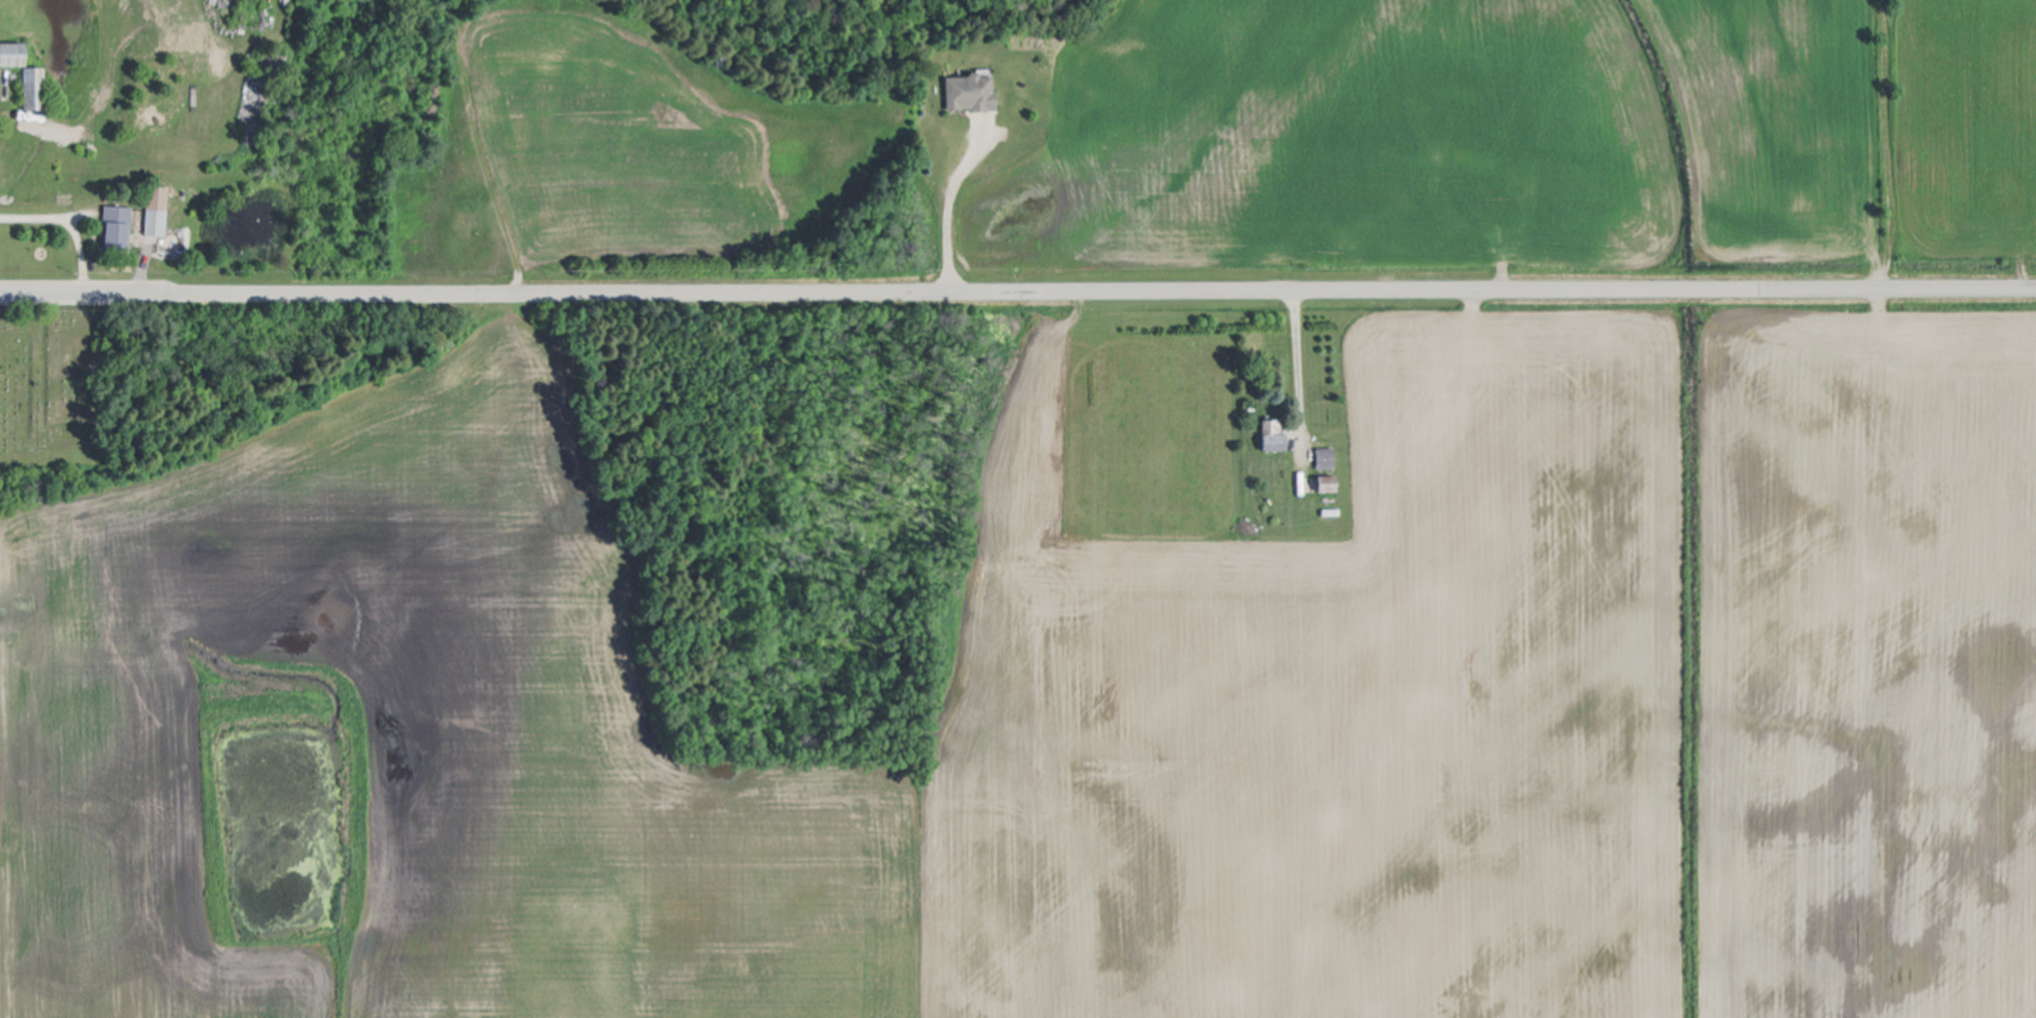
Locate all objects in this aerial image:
building: (13, 54)
building: (34, 88)
building: (971, 93)
road: (28, 120)
building: (155, 211)
road: (949, 212)
road: (72, 219)
building: (116, 227)
road: (1018, 292)
road: (1297, 368)
park: (81, 392)
building: (1273, 437)
building: (1326, 458)
building: (1328, 484)

